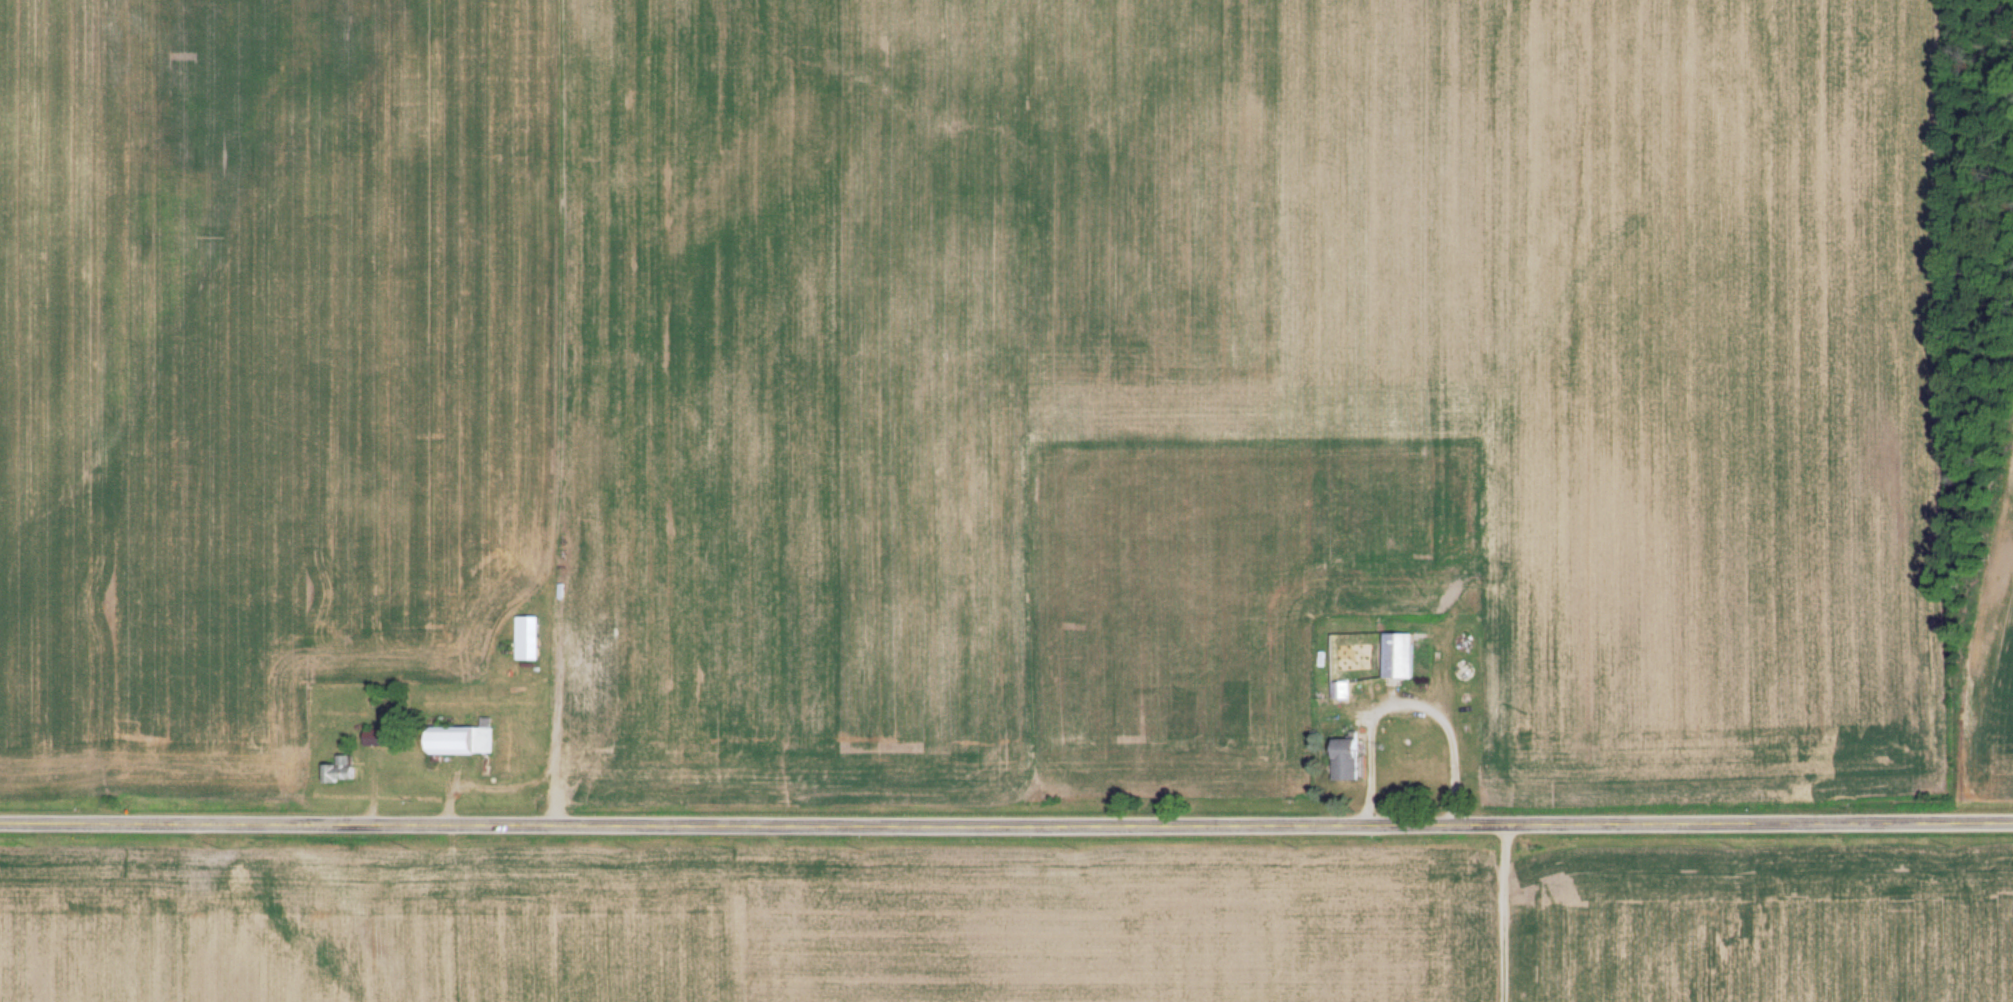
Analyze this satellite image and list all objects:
building: (528, 636)
building: (1400, 654)
building: (1343, 689)
building: (375, 737)
building: (463, 739)
building: (1348, 758)
building: (340, 768)
road: (1006, 824)

